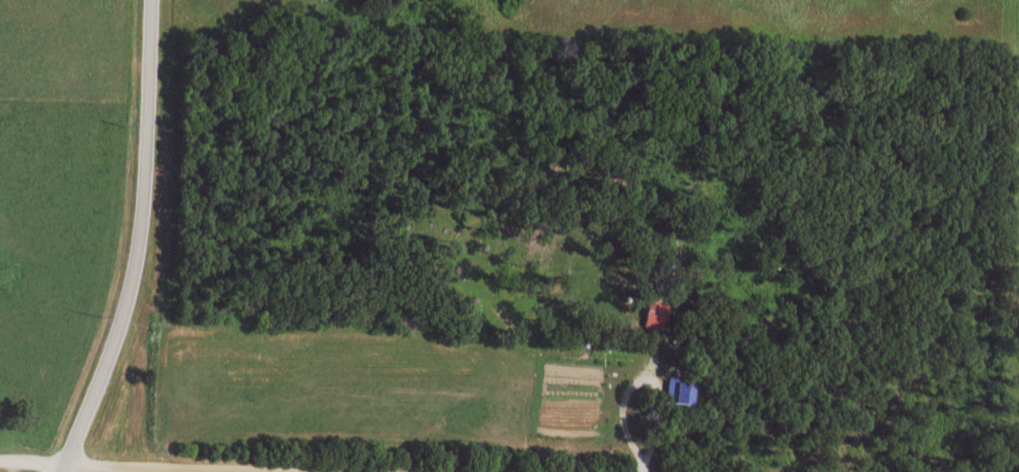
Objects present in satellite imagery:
road: (141, 243)
building: (653, 312)
building: (675, 389)
road: (88, 461)
road: (278, 468)
road: (177, 469)
road: (258, 470)

